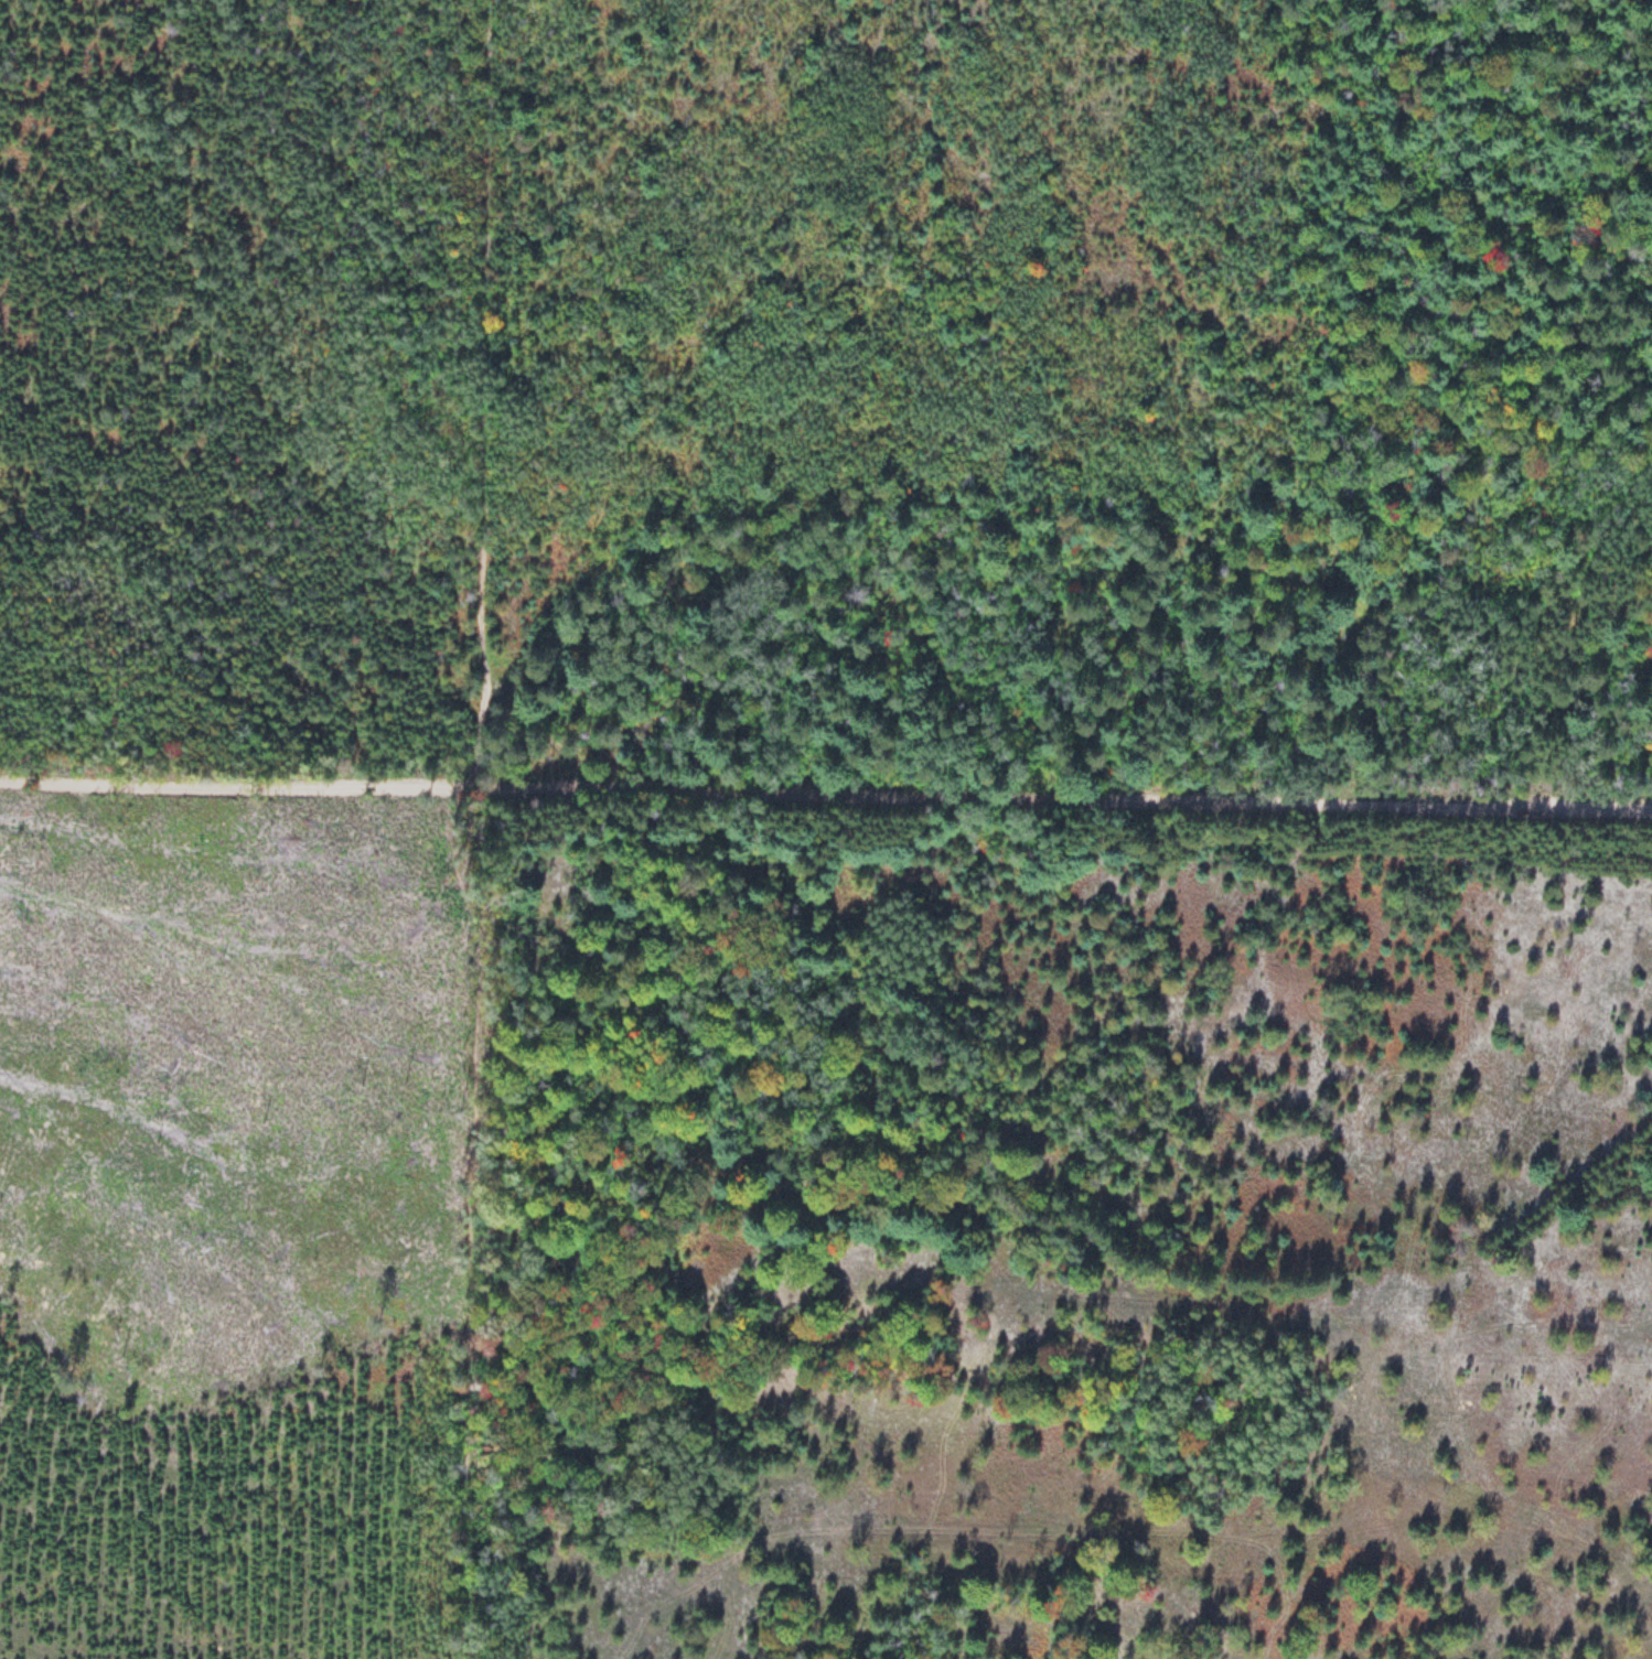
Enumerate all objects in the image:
road: (825, 790)
road: (465, 830)

